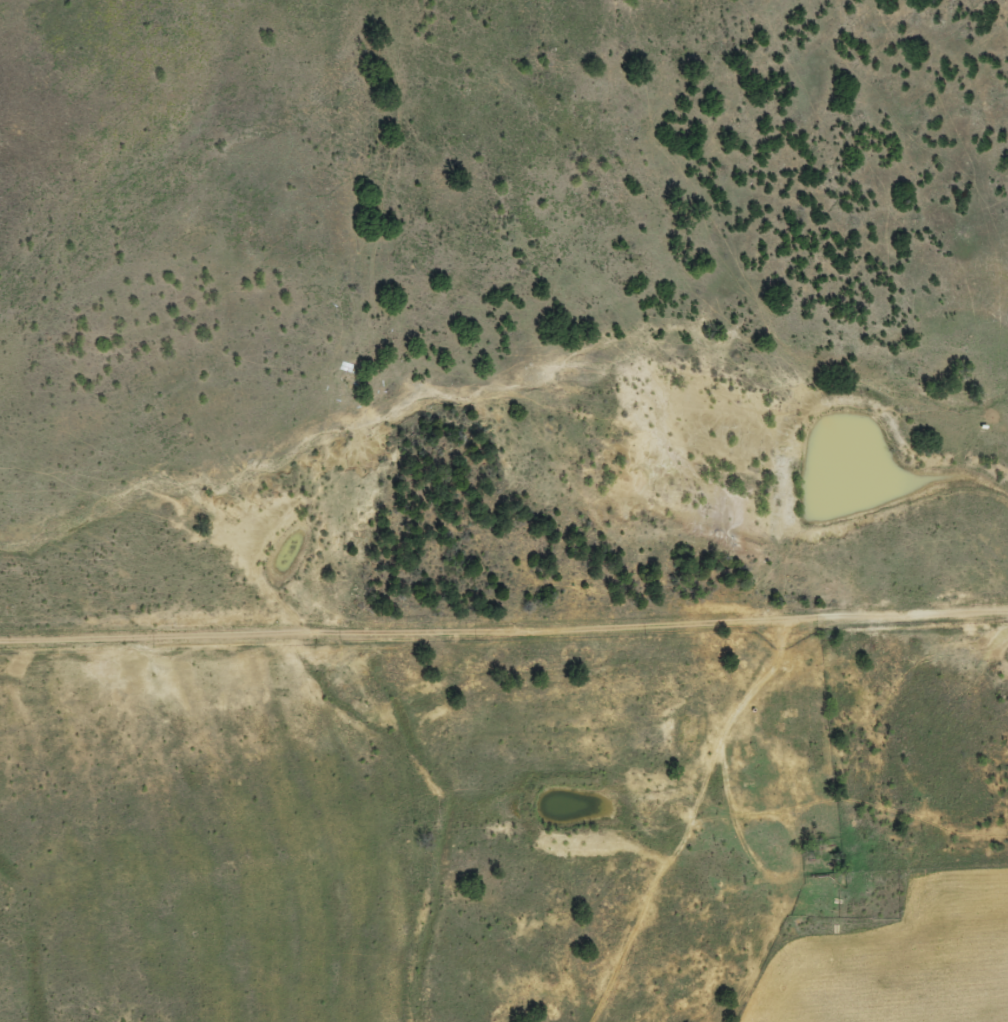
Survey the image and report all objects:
road: (504, 621)
building: (784, 714)
building: (747, 753)
road: (655, 830)

